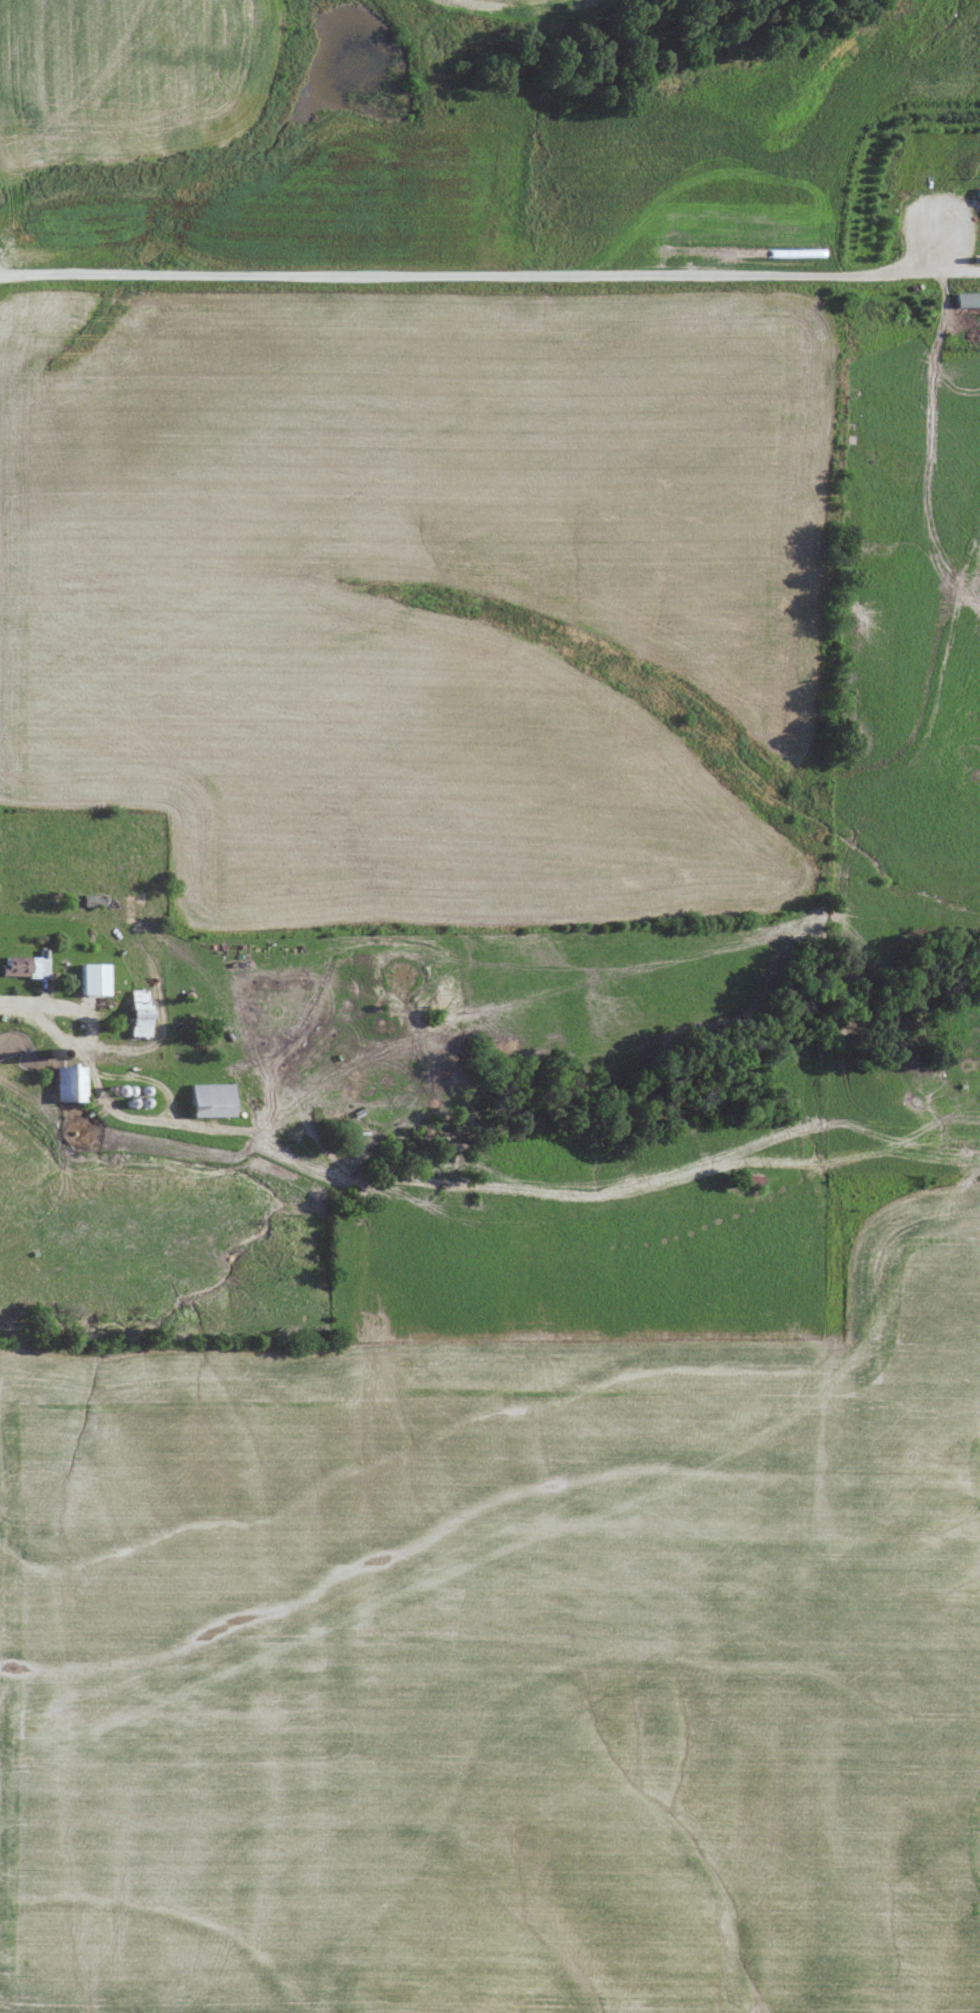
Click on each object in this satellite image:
building: (968, 299)
building: (92, 979)
building: (138, 1013)
road: (97, 1074)
building: (69, 1083)
building: (210, 1100)

